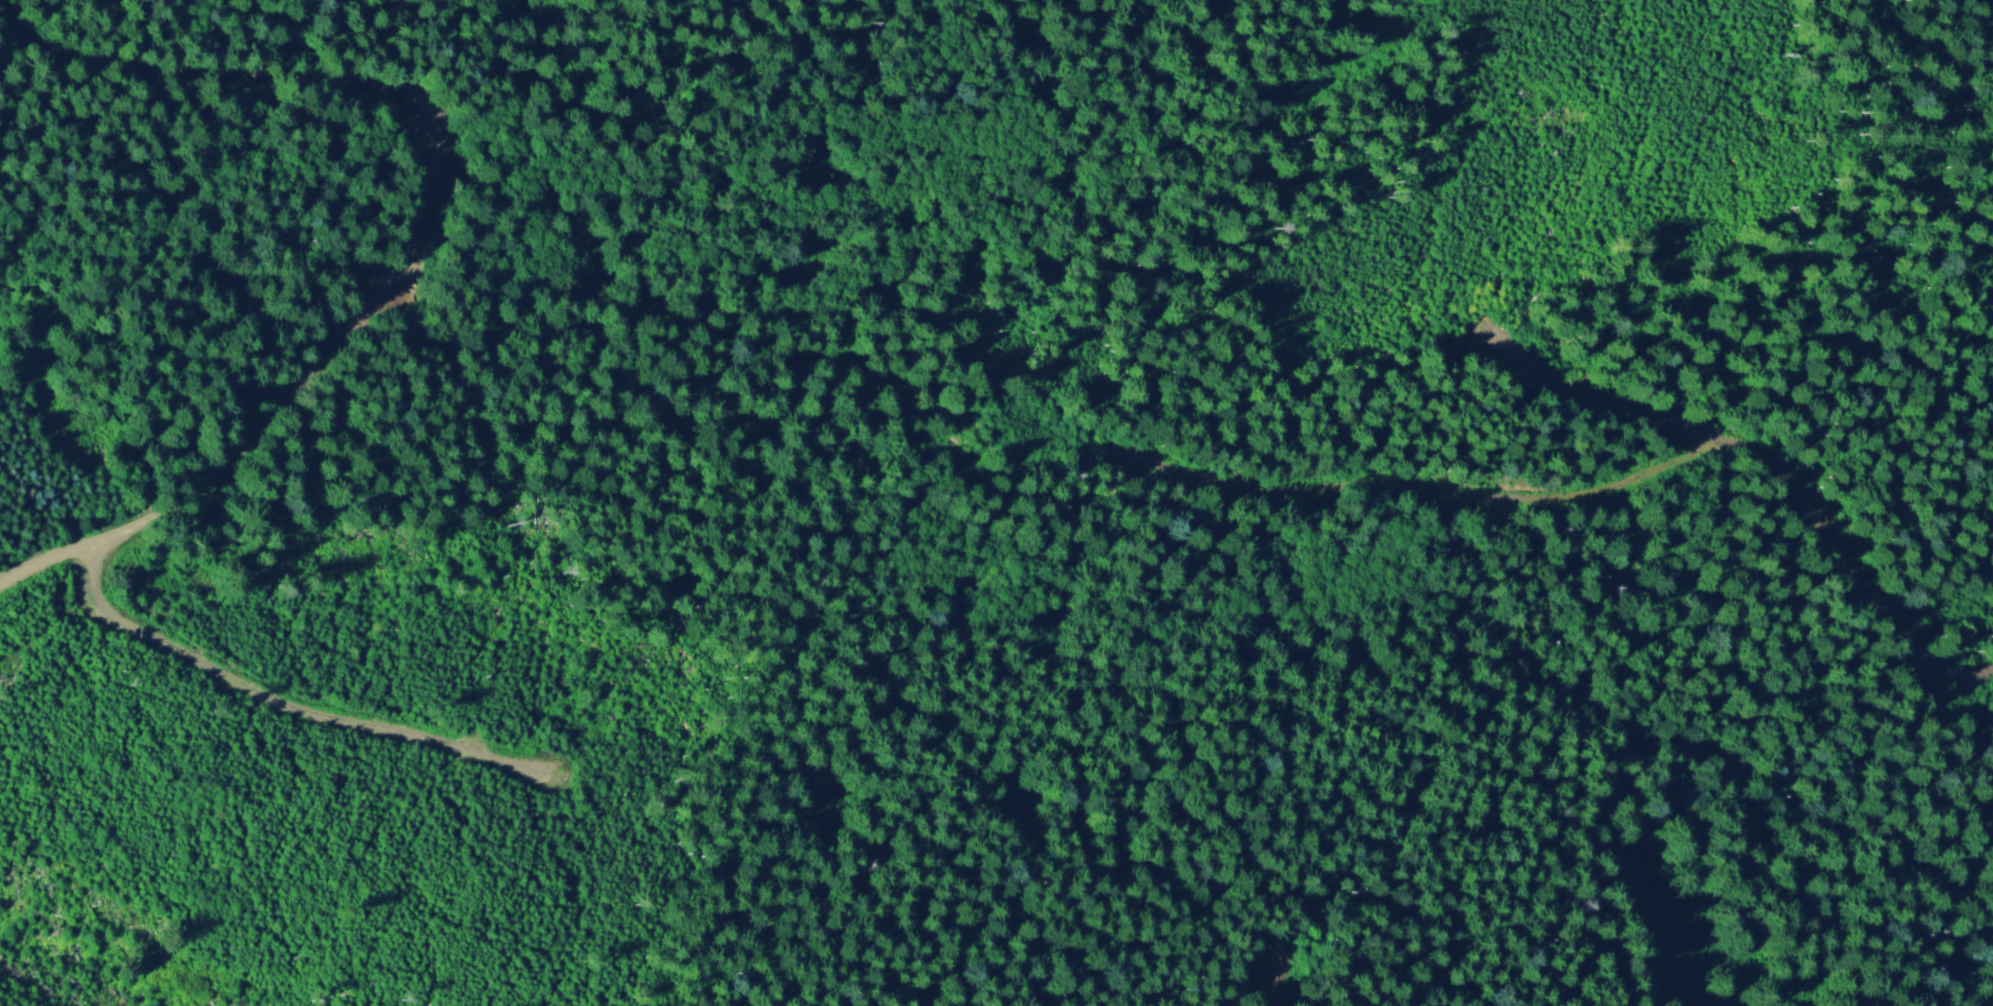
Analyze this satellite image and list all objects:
road: (425, 224)
road: (1606, 484)
road: (284, 702)

